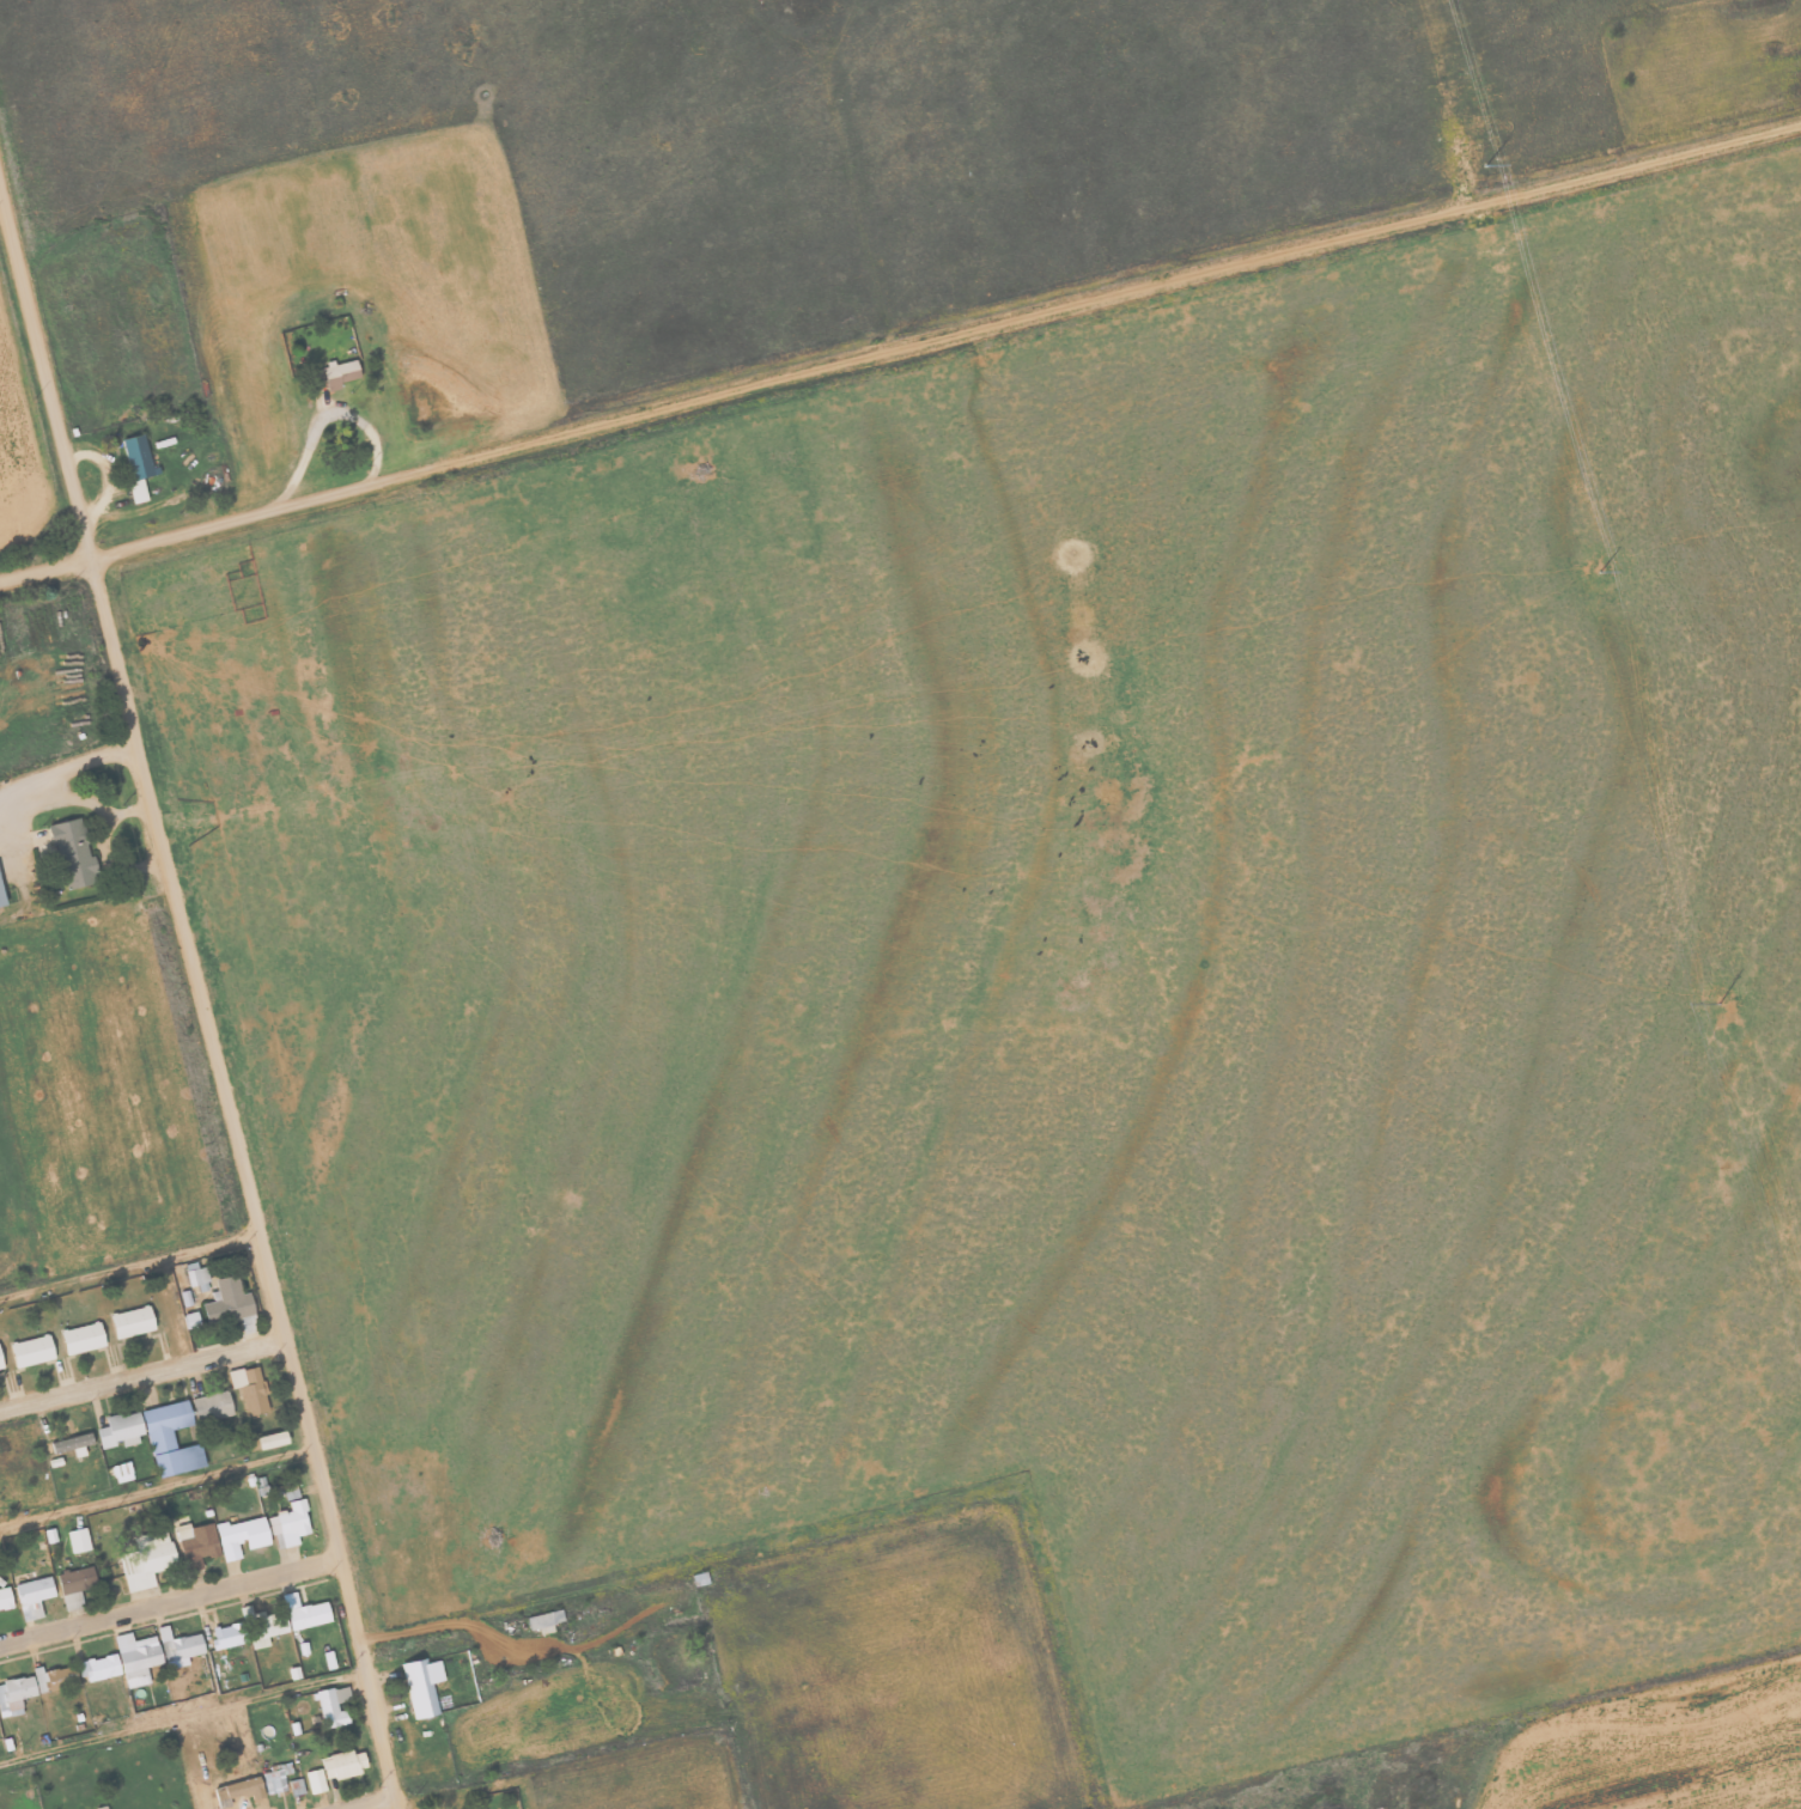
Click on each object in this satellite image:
road: (865, 173)
power tower: (1490, 187)
road: (899, 347)
building: (339, 373)
road: (44, 390)
building: (135, 464)
power tower: (1601, 580)
building: (72, 853)
building: (1, 900)
power tower: (1722, 1016)
road: (242, 1184)
road: (127, 1265)
building: (227, 1302)
building: (190, 1320)
building: (130, 1321)
building: (80, 1338)
building: (30, 1351)
building: (0, 1366)
road: (139, 1373)
building: (248, 1389)
building: (211, 1406)
building: (120, 1430)
building: (169, 1439)
building: (269, 1439)
building: (71, 1444)
building: (121, 1472)
road: (154, 1486)
building: (288, 1490)
building: (288, 1524)
building: (241, 1535)
building: (78, 1539)
building: (196, 1541)
building: (146, 1559)
building: (75, 1579)
building: (32, 1596)
building: (5, 1598)
building: (72, 1600)
road: (168, 1602)
building: (304, 1612)
building: (543, 1621)
building: (262, 1625)
building: (226, 1634)
building: (177, 1646)
building: (135, 1657)
building: (328, 1659)
building: (97, 1667)
building: (293, 1673)
building: (421, 1685)
building: (32, 1687)
building: (331, 1706)
road: (182, 1717)
building: (342, 1764)
building: (276, 1778)
building: (315, 1780)
building: (296, 1786)
road: (366, 1802)

